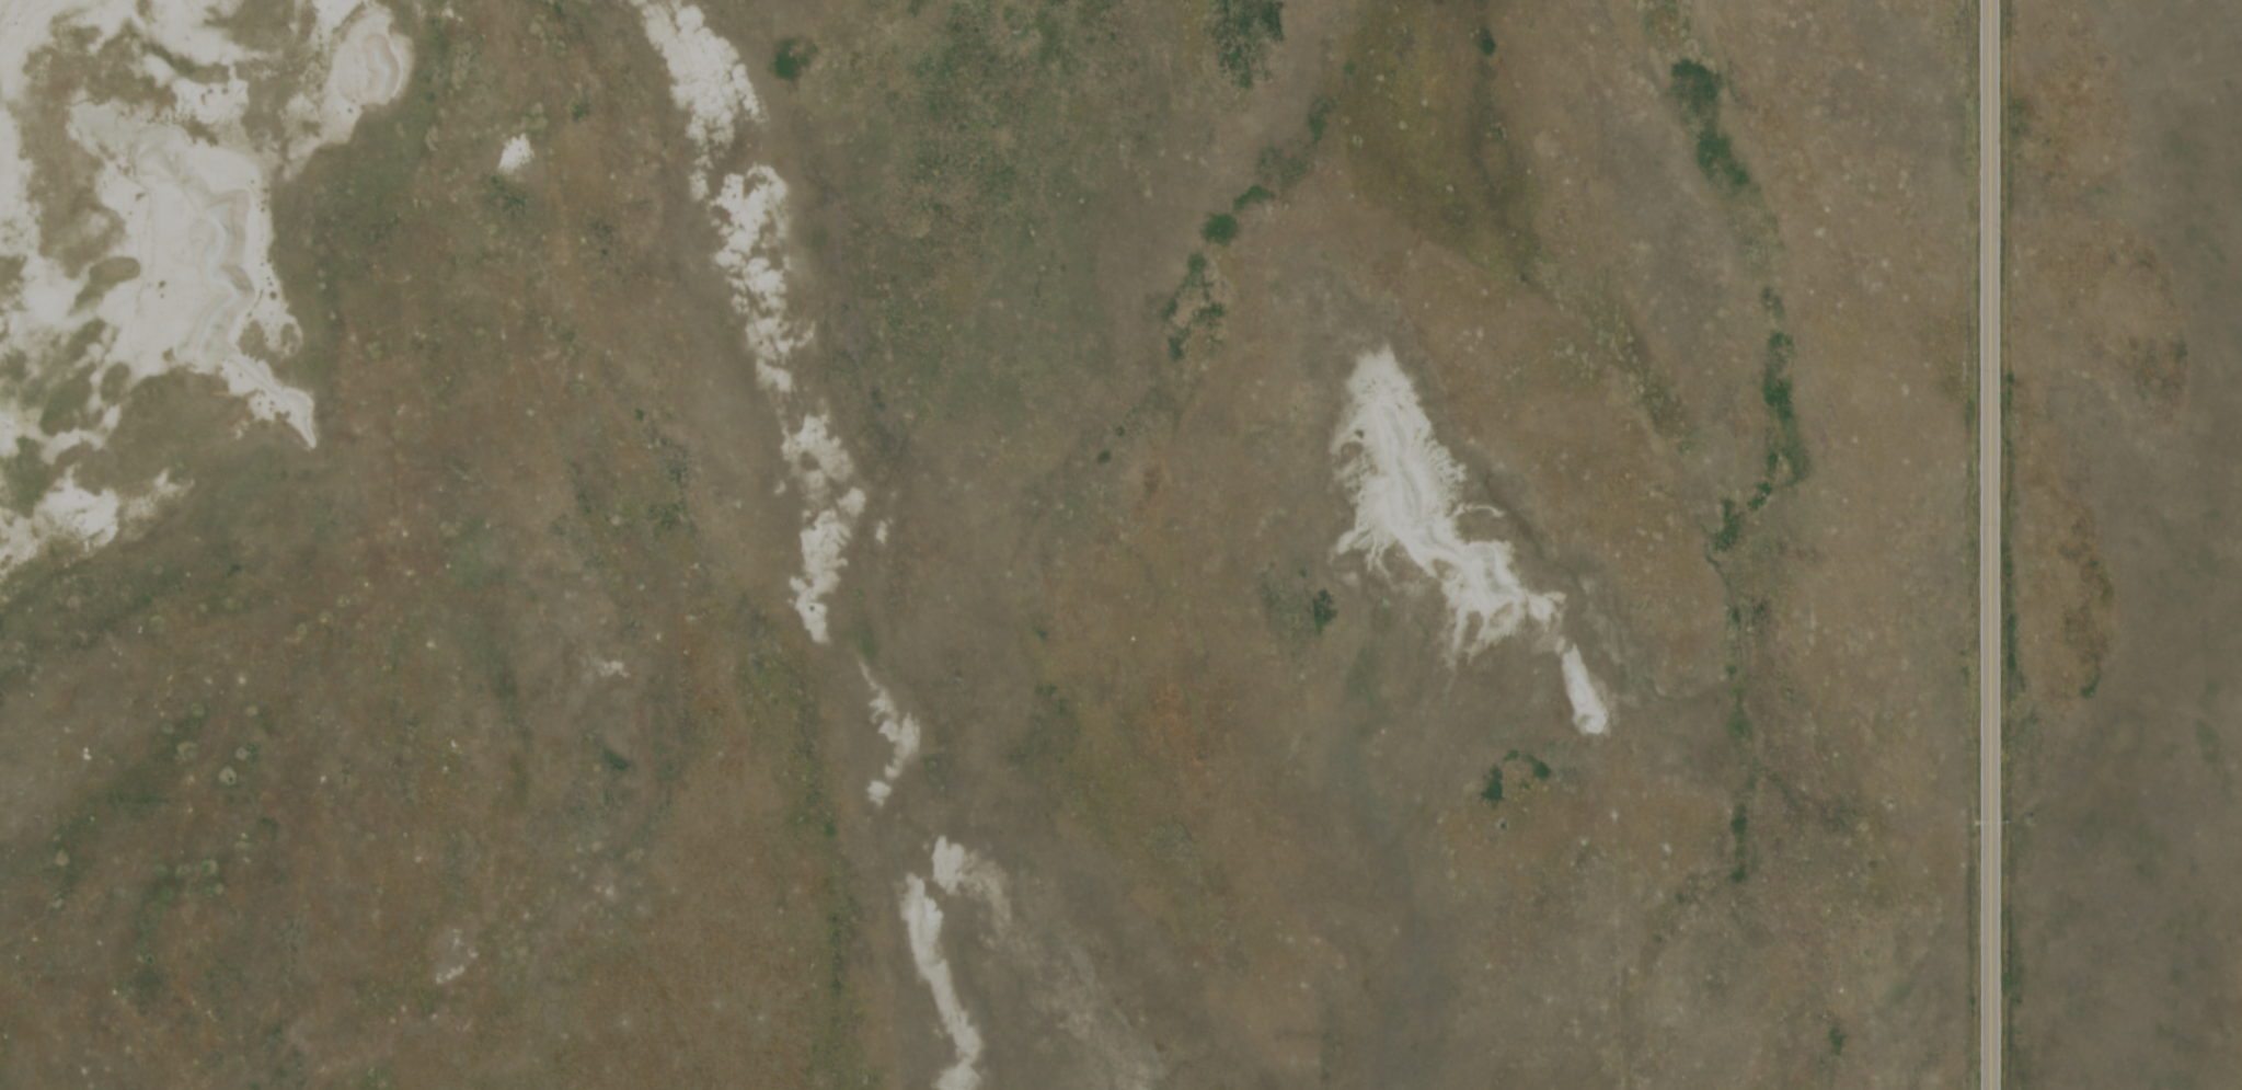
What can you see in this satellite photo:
road: (1987, 544)

